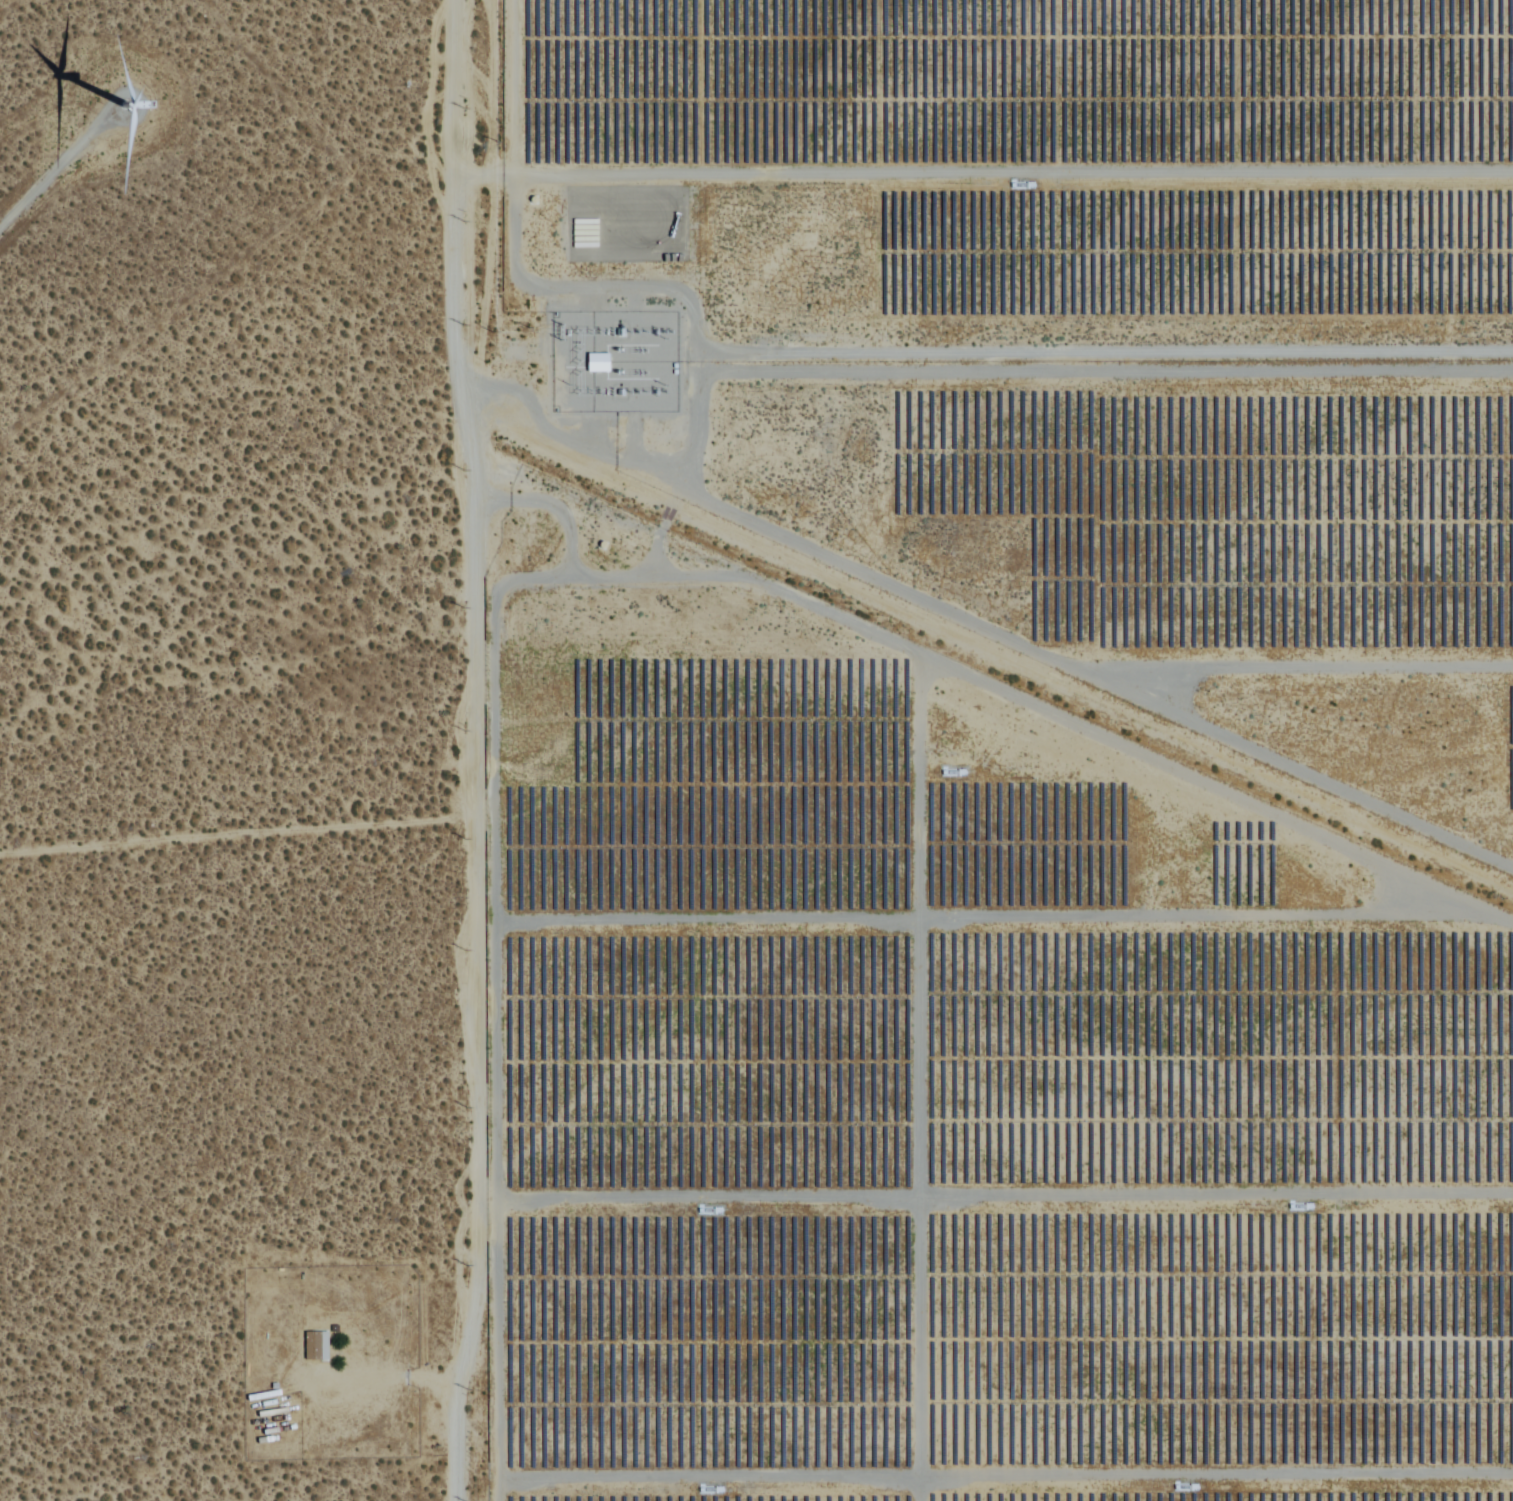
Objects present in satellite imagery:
wind turbine: (135, 112)
solar farm: (1017, 173)
road: (36, 193)
power substation: (610, 352)
solar farm: (1167, 535)
road: (471, 751)
solar farm: (949, 1078)
building: (313, 1346)

